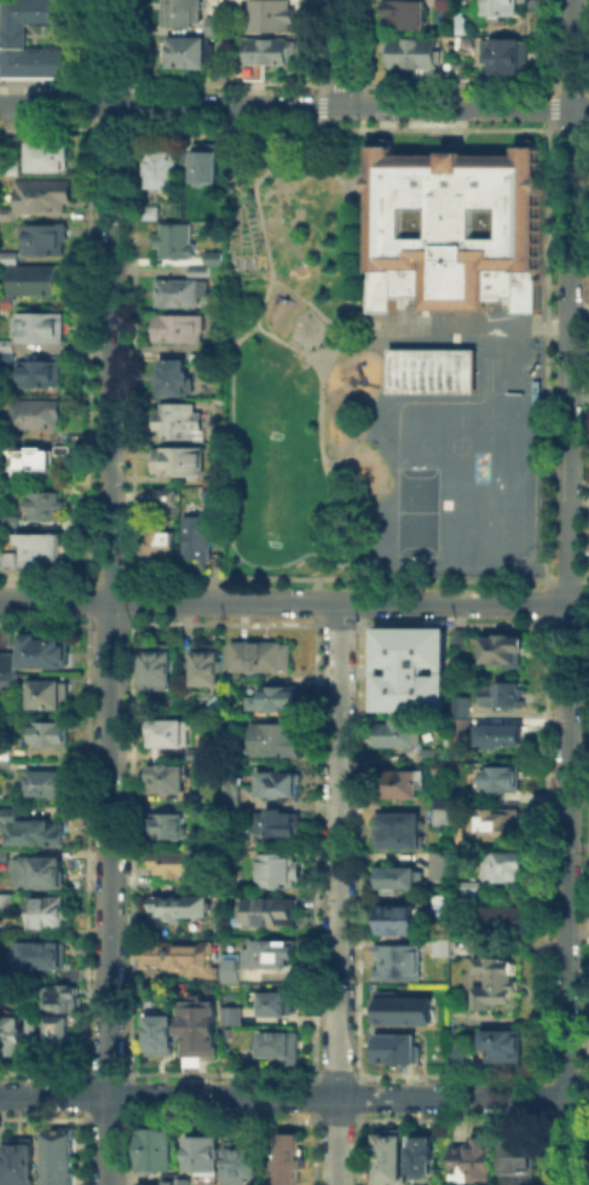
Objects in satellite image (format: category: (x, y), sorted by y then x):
building: (445, 4)
building: (502, 10)
building: (186, 12)
building: (404, 13)
building: (275, 17)
building: (221, 29)
building: (16, 38)
road: (342, 52)
building: (275, 53)
building: (414, 53)
road: (571, 53)
building: (191, 56)
building: (504, 57)
road: (294, 105)
building: (0, 138)
building: (47, 154)
building: (202, 161)
building: (11, 165)
building: (161, 167)
building: (41, 192)
building: (6, 211)
building: (146, 211)
building: (454, 229)
building: (41, 236)
building: (173, 238)
building: (8, 255)
building: (212, 255)
building: (197, 269)
building: (30, 278)
building: (178, 289)
road: (304, 297)
building: (6, 300)
building: (37, 324)
building: (178, 326)
building: (6, 344)
building: (213, 344)
road: (293, 346)
park: (289, 351)
road: (568, 355)
building: (6, 356)
building: (198, 356)
road: (325, 357)
building: (429, 368)
park: (429, 368)
building: (37, 372)
building: (172, 375)
road: (230, 382)
building: (34, 412)
building: (177, 419)
building: (29, 456)
building: (178, 459)
park: (267, 467)
building: (204, 478)
building: (164, 495)
building: (208, 496)
building: (45, 504)
building: (8, 518)
building: (195, 536)
building: (161, 542)
building: (40, 547)
building: (7, 558)
road: (111, 592)
road: (294, 602)
building: (42, 649)
building: (503, 651)
building: (258, 654)
building: (206, 662)
building: (156, 665)
building: (412, 671)
building: (10, 681)
building: (500, 692)
building: (48, 696)
building: (273, 697)
building: (214, 701)
building: (143, 703)
building: (461, 703)
building: (466, 727)
building: (167, 730)
building: (52, 735)
building: (273, 737)
building: (405, 737)
building: (502, 737)
building: (195, 752)
building: (433, 754)
building: (7, 760)
building: (444, 769)
building: (166, 776)
building: (277, 781)
building: (504, 781)
building: (52, 786)
building: (410, 786)
building: (231, 789)
building: (441, 809)
building: (10, 818)
building: (276, 821)
building: (166, 824)
building: (497, 826)
building: (398, 828)
building: (44, 834)
building: (5, 856)
building: (169, 865)
building: (276, 868)
building: (444, 868)
building: (512, 869)
building: (41, 874)
building: (405, 881)
building: (477, 890)
road: (339, 893)
road: (567, 894)
building: (175, 905)
building: (266, 909)
building: (48, 914)
building: (403, 922)
building: (508, 924)
building: (440, 948)
building: (268, 951)
building: (179, 955)
building: (46, 956)
building: (395, 959)
building: (230, 968)
building: (500, 984)
building: (59, 995)
building: (275, 1001)
building: (408, 1012)
building: (232, 1013)
building: (24, 1026)
building: (197, 1026)
building: (54, 1028)
building: (227, 1030)
building: (158, 1032)
building: (12, 1035)
building: (278, 1045)
building: (506, 1045)
building: (400, 1053)
road: (294, 1097)
building: (160, 1150)
building: (389, 1154)
building: (206, 1155)
building: (420, 1155)
building: (60, 1157)
building: (290, 1158)
building: (243, 1160)
building: (469, 1160)
building: (17, 1161)
building: (514, 1163)
building: (169, 1180)
building: (183, 1180)

